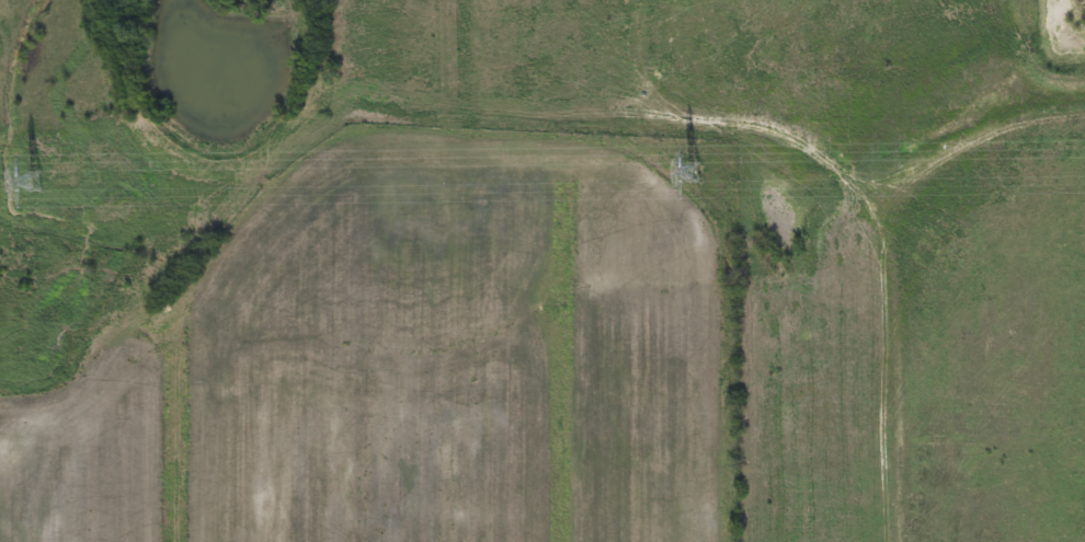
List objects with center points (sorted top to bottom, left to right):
power tower: (686, 170)
power tower: (28, 180)

